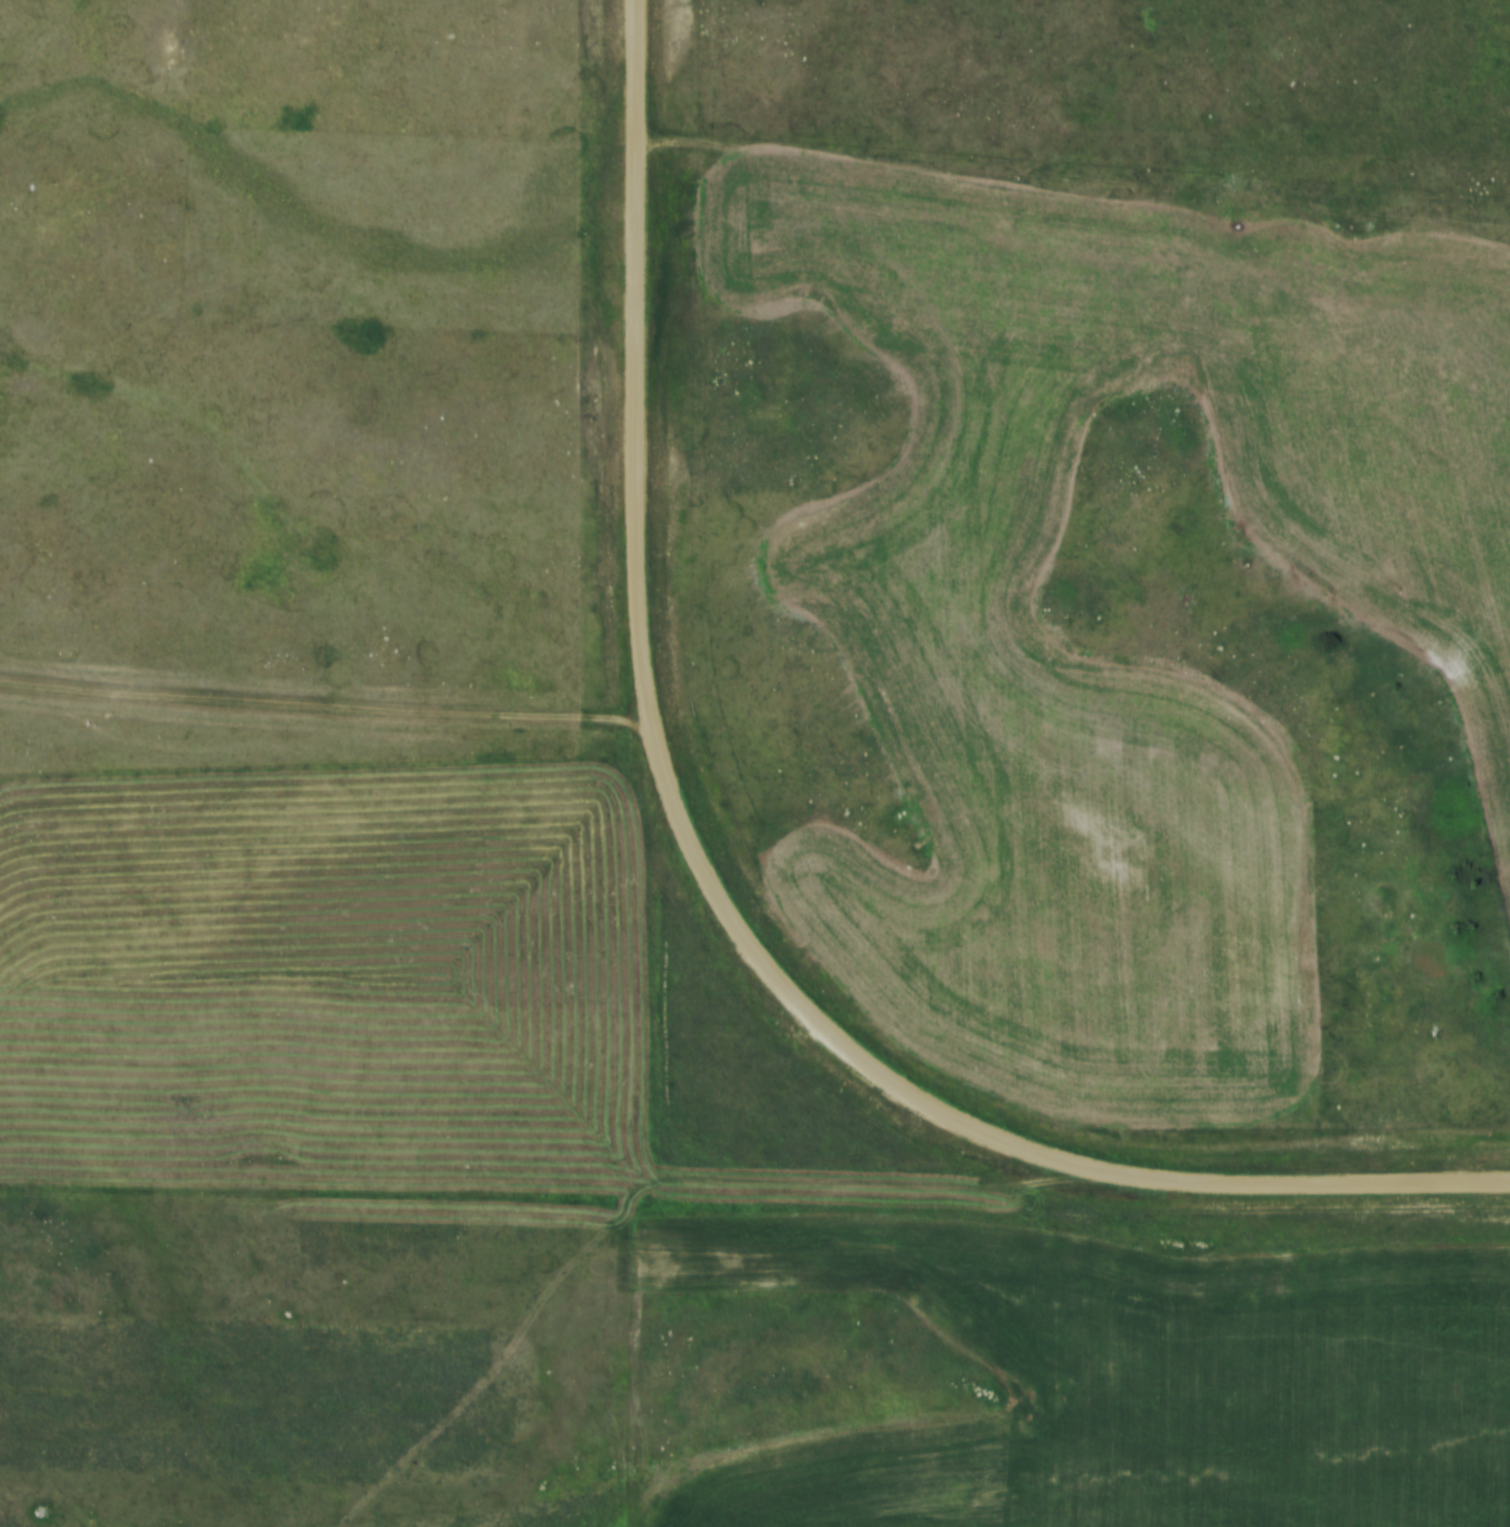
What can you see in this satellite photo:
road: (324, 704)
road: (711, 892)

